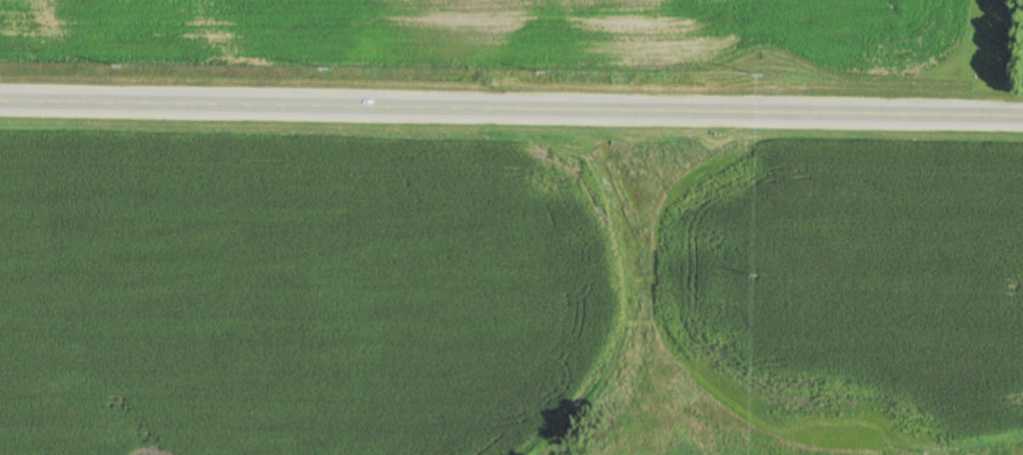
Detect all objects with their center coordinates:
road: (511, 107)

